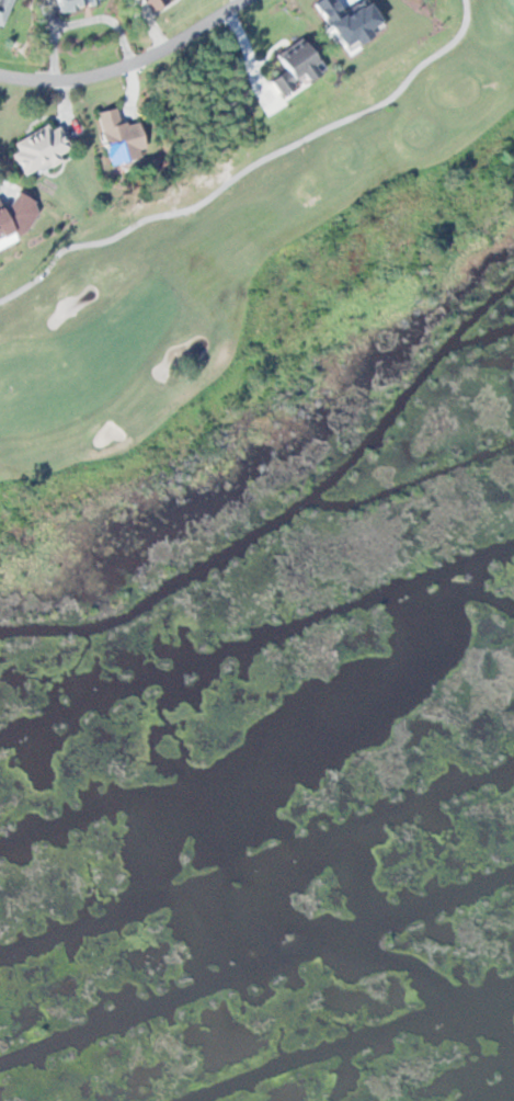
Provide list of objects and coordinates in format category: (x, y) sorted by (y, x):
building: (79, 2)
building: (5, 11)
road: (128, 61)
building: (297, 67)
building: (122, 136)
building: (39, 147)
road: (249, 167)
building: (16, 217)

